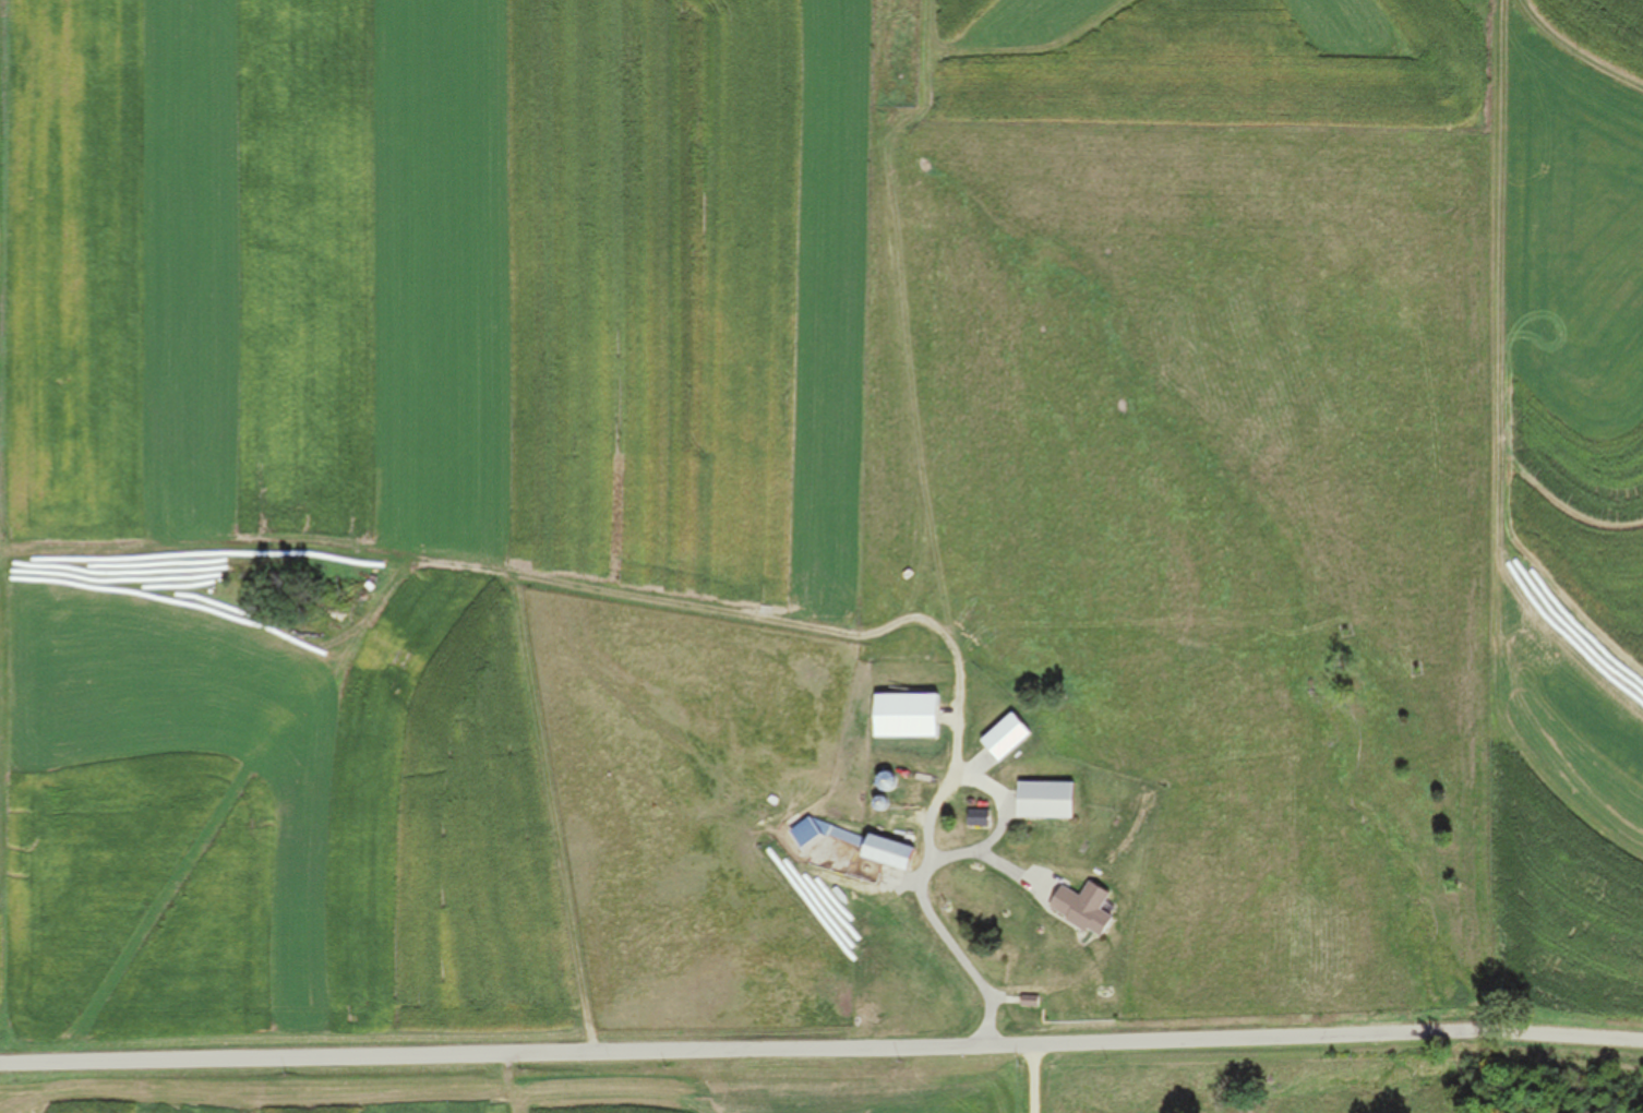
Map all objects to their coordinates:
building: (1000, 738)
building: (1042, 801)
building: (974, 818)
building: (840, 837)
road: (925, 842)
building: (884, 853)
building: (1079, 908)
road: (821, 1048)

